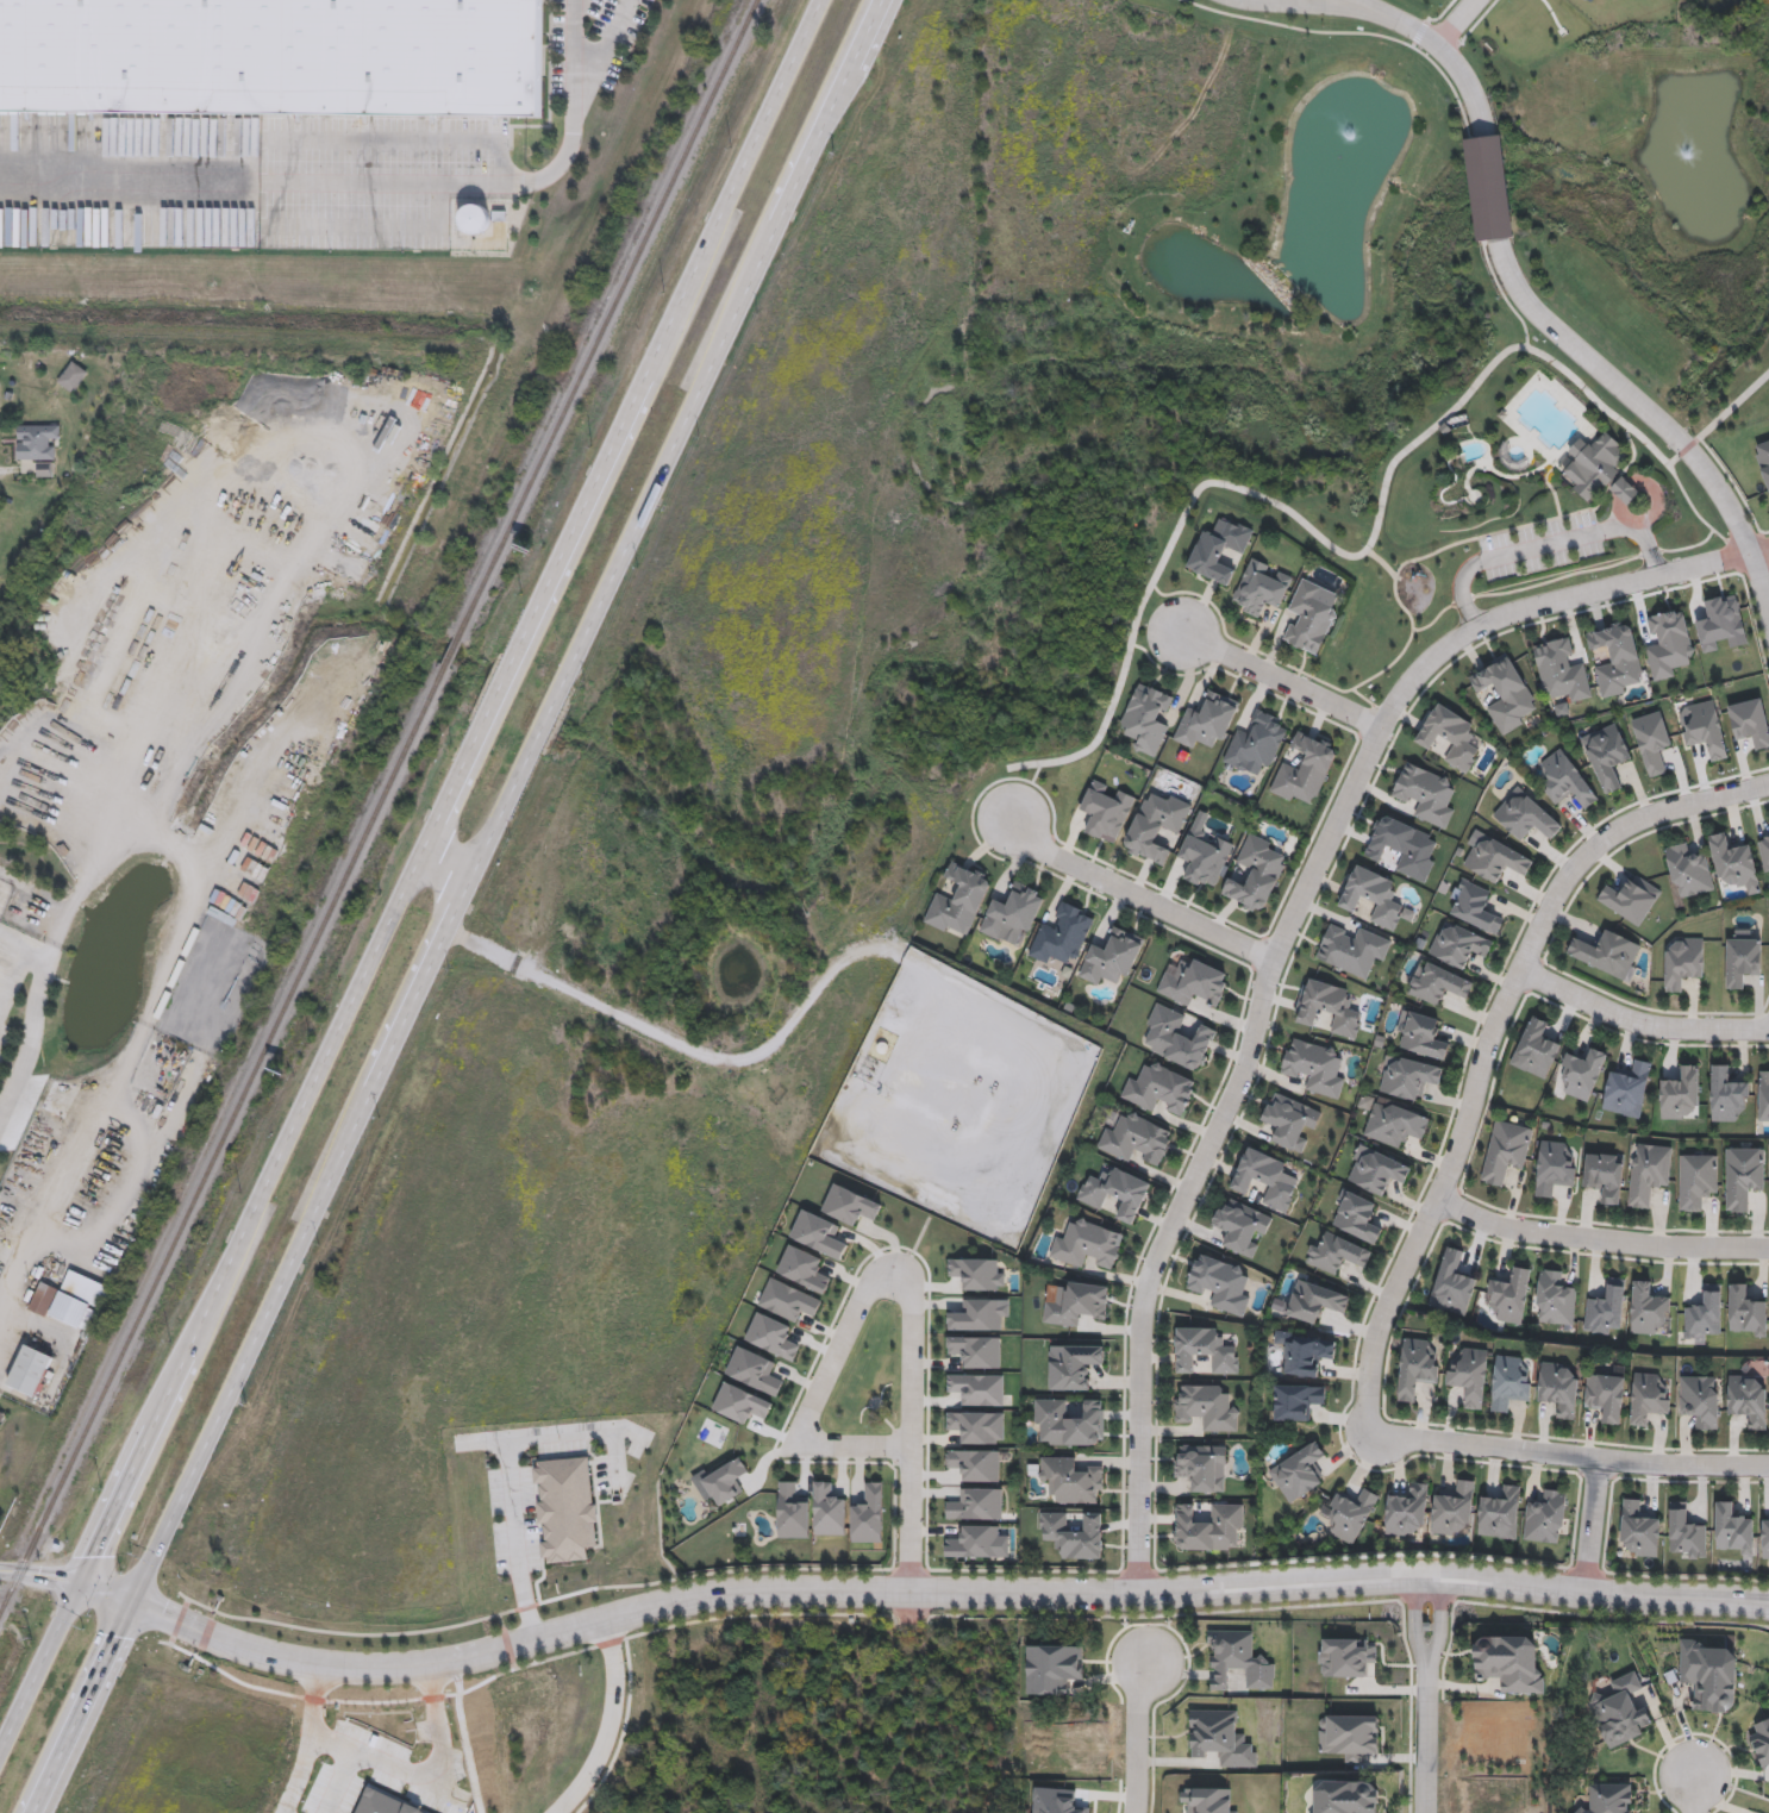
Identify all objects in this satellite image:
road: (574, 1)
road: (1304, 5)
road: (1362, 5)
road: (1455, 23)
road: (598, 52)
road: (1445, 54)
building: (268, 55)
road: (364, 185)
road: (1493, 186)
building: (1488, 190)
building: (475, 220)
building: (76, 379)
building: (0, 380)
road: (1651, 415)
building: (39, 443)
building: (1764, 457)
building: (1599, 470)
road: (1373, 534)
road: (1544, 548)
parking lot: (1542, 550)
building: (1220, 551)
building: (1261, 588)
building: (1311, 617)
building: (1669, 643)
building: (1615, 657)
building: (1561, 670)
road: (1280, 681)
building: (1505, 692)
building: (1146, 718)
building: (1207, 720)
building: (1706, 729)
building: (1451, 736)
building: (1652, 740)
building: (1257, 742)
building: (1606, 754)
building: (1305, 769)
building: (1565, 780)
building: (1425, 793)
railway: (380, 808)
building: (1105, 809)
building: (1525, 814)
building: (1768, 823)
building: (1156, 825)
building: (1402, 846)
building: (1764, 850)
building: (1204, 856)
building: (1495, 859)
building: (1734, 862)
road: (444, 868)
building: (1689, 869)
building: (1255, 873)
road: (410, 876)
building: (1373, 895)
road: (1136, 898)
building: (1631, 898)
building: (958, 900)
road: (457, 906)
building: (1475, 906)
building: (1013, 912)
road: (64, 923)
building: (196, 931)
building: (1063, 934)
road: (1280, 939)
building: (1458, 945)
building: (1352, 949)
road: (25, 950)
building: (1607, 952)
building: (0, 957)
building: (1111, 957)
building: (1683, 961)
building: (1743, 961)
road: (11, 975)
building: (1193, 981)
building: (1437, 982)
building: (1327, 1006)
road: (1639, 1023)
road: (145, 1026)
building: (1423, 1033)
building: (1177, 1037)
road: (1489, 1045)
building: (1536, 1049)
road: (731, 1062)
building: (1314, 1067)
building: (1582, 1071)
building: (1408, 1077)
building: (1159, 1088)
building: (1627, 1088)
building: (1679, 1092)
building: (63, 1093)
building: (1726, 1093)
building: (1763, 1095)
building: (1289, 1120)
building: (1395, 1124)
building: (1136, 1137)
building: (1506, 1150)
building: (1554, 1167)
building: (1377, 1171)
building: (1648, 1173)
building: (1605, 1175)
building: (1742, 1176)
building: (1267, 1177)
building: (1698, 1180)
building: (1115, 1192)
building: (850, 1205)
building: (1356, 1217)
building: (1240, 1227)
road: (1600, 1242)
building: (1088, 1244)
road: (21, 1246)
building: (1336, 1252)
road: (913, 1268)
building: (977, 1273)
building: (1220, 1283)
building: (1451, 1283)
building: (89, 1290)
building: (1509, 1294)
building: (1555, 1298)
building: (46, 1300)
building: (1314, 1301)
building: (1076, 1302)
building: (1605, 1306)
building: (1648, 1308)
building: (1746, 1311)
building: (979, 1314)
building: (1705, 1314)
building: (773, 1336)
building: (975, 1350)
building: (1204, 1350)
building: (1305, 1352)
building: (1074, 1365)
building: (1417, 1367)
building: (35, 1375)
building: (1470, 1375)
building: (1509, 1382)
building: (977, 1388)
building: (1558, 1388)
building: (1605, 1395)
building: (1649, 1399)
building: (1748, 1399)
building: (1700, 1400)
building: (1296, 1401)
building: (740, 1403)
building: (1206, 1406)
building: (1069, 1421)
road: (521, 1450)
road: (1570, 1456)
building: (974, 1465)
building: (1201, 1467)
building: (1299, 1473)
building: (1071, 1480)
parking lot: (508, 1507)
building: (829, 1508)
building: (1406, 1508)
building: (793, 1509)
building: (1452, 1509)
building: (1350, 1513)
building: (1499, 1513)
building: (868, 1514)
building: (1545, 1517)
building: (1207, 1526)
building: (1639, 1527)
road: (1593, 1528)
building: (1732, 1528)
building: (1074, 1533)
building: (1686, 1533)
building: (1765, 1536)
road: (68, 1580)
traffic signals: (81, 1582)
road: (939, 1590)
traffic signals: (132, 1603)
road: (1414, 1625)
road: (1439, 1625)
building: (1345, 1657)
building: (1236, 1661)
building: (1507, 1664)
building: (1708, 1676)
building: (1620, 1712)
road: (611, 1724)
building: (1349, 1736)
road: (1136, 1738)
building: (1220, 1738)
road: (1426, 1740)
building: (1761, 1742)
road: (388, 1771)
road: (1693, 1795)
building: (1346, 1796)
building: (1608, 1799)

